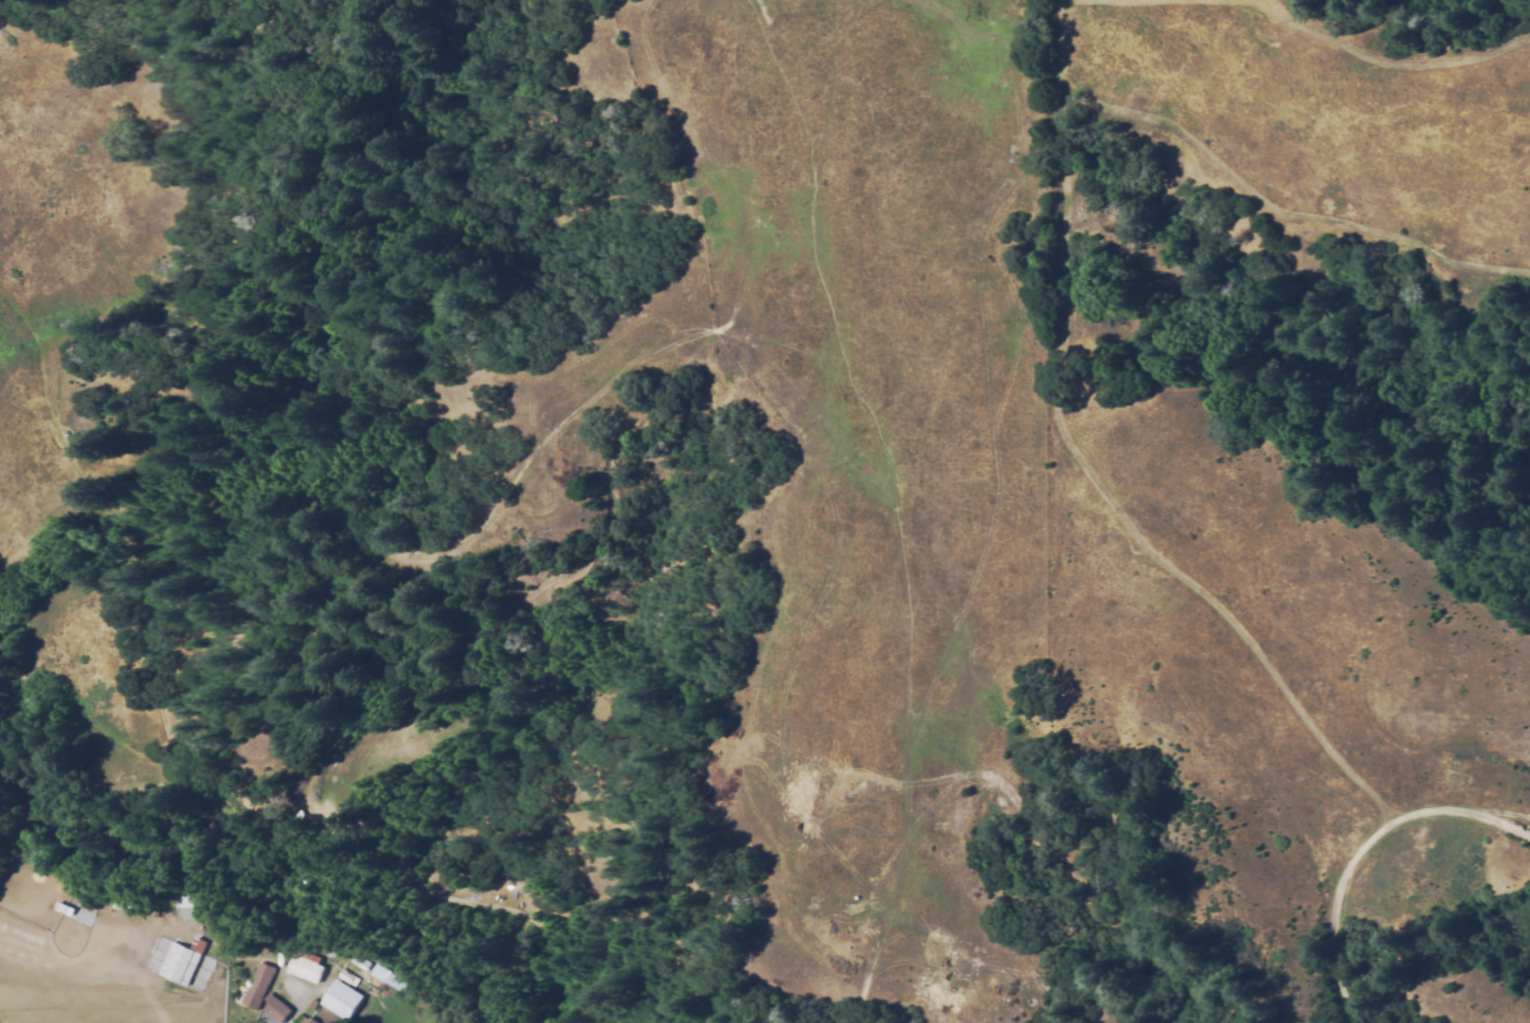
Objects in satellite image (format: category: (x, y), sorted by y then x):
road: (1490, 808)
building: (301, 814)
building: (322, 833)
road: (1361, 848)
building: (181, 902)
building: (446, 911)
building: (184, 961)
building: (360, 961)
building: (308, 966)
building: (350, 977)
building: (386, 978)
building: (260, 986)
building: (346, 1000)
building: (280, 1010)
building: (309, 1020)

